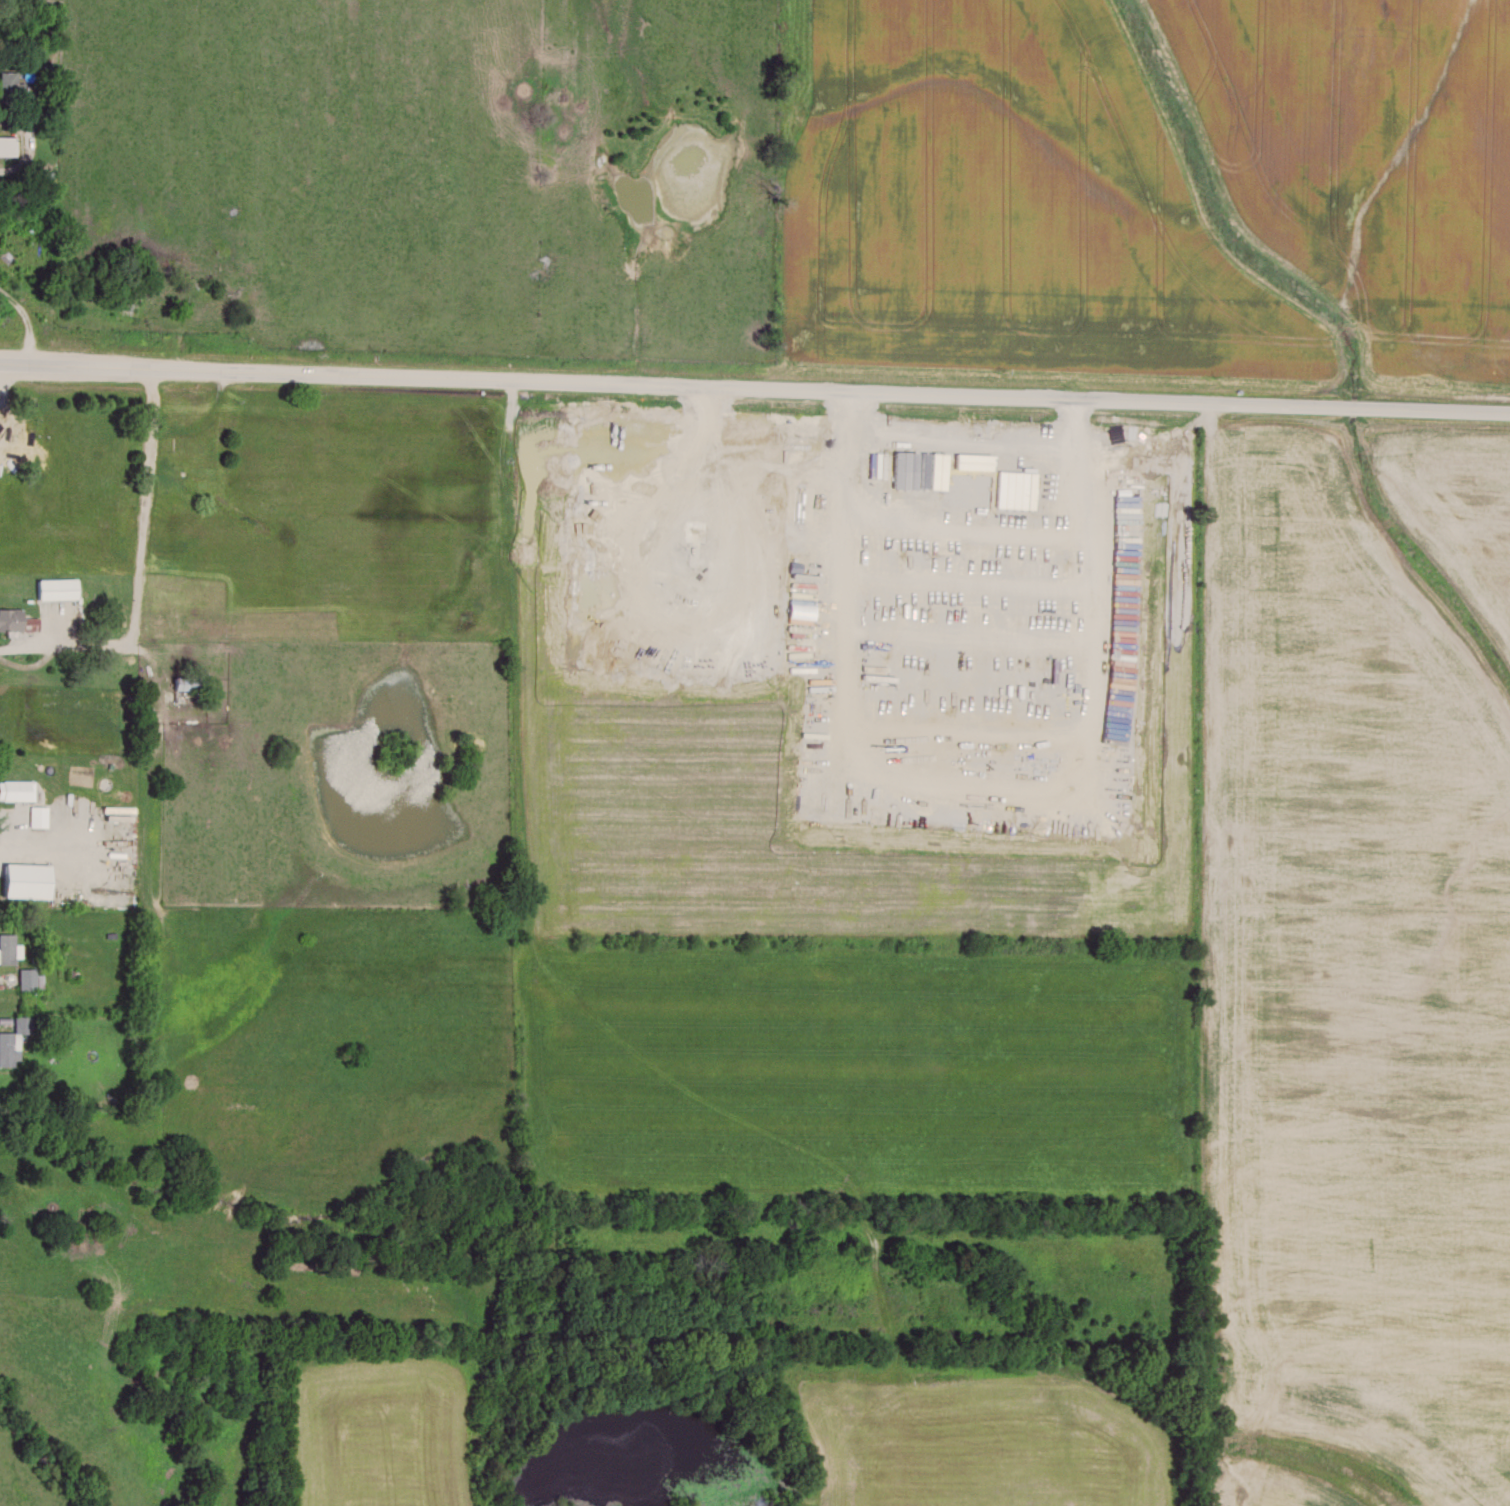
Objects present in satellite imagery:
building: (10, 85)
building: (6, 144)
road: (29, 144)
road: (26, 324)
road: (4, 373)
road: (755, 388)
road: (181, 432)
building: (971, 459)
building: (918, 468)
building: (1013, 487)
building: (54, 586)
building: (16, 619)
road: (33, 648)
building: (186, 680)
building: (15, 788)
road: (14, 812)
building: (36, 814)
building: (22, 878)
building: (8, 947)
building: (26, 976)
road: (5, 982)
road: (1, 1023)
building: (12, 1038)

